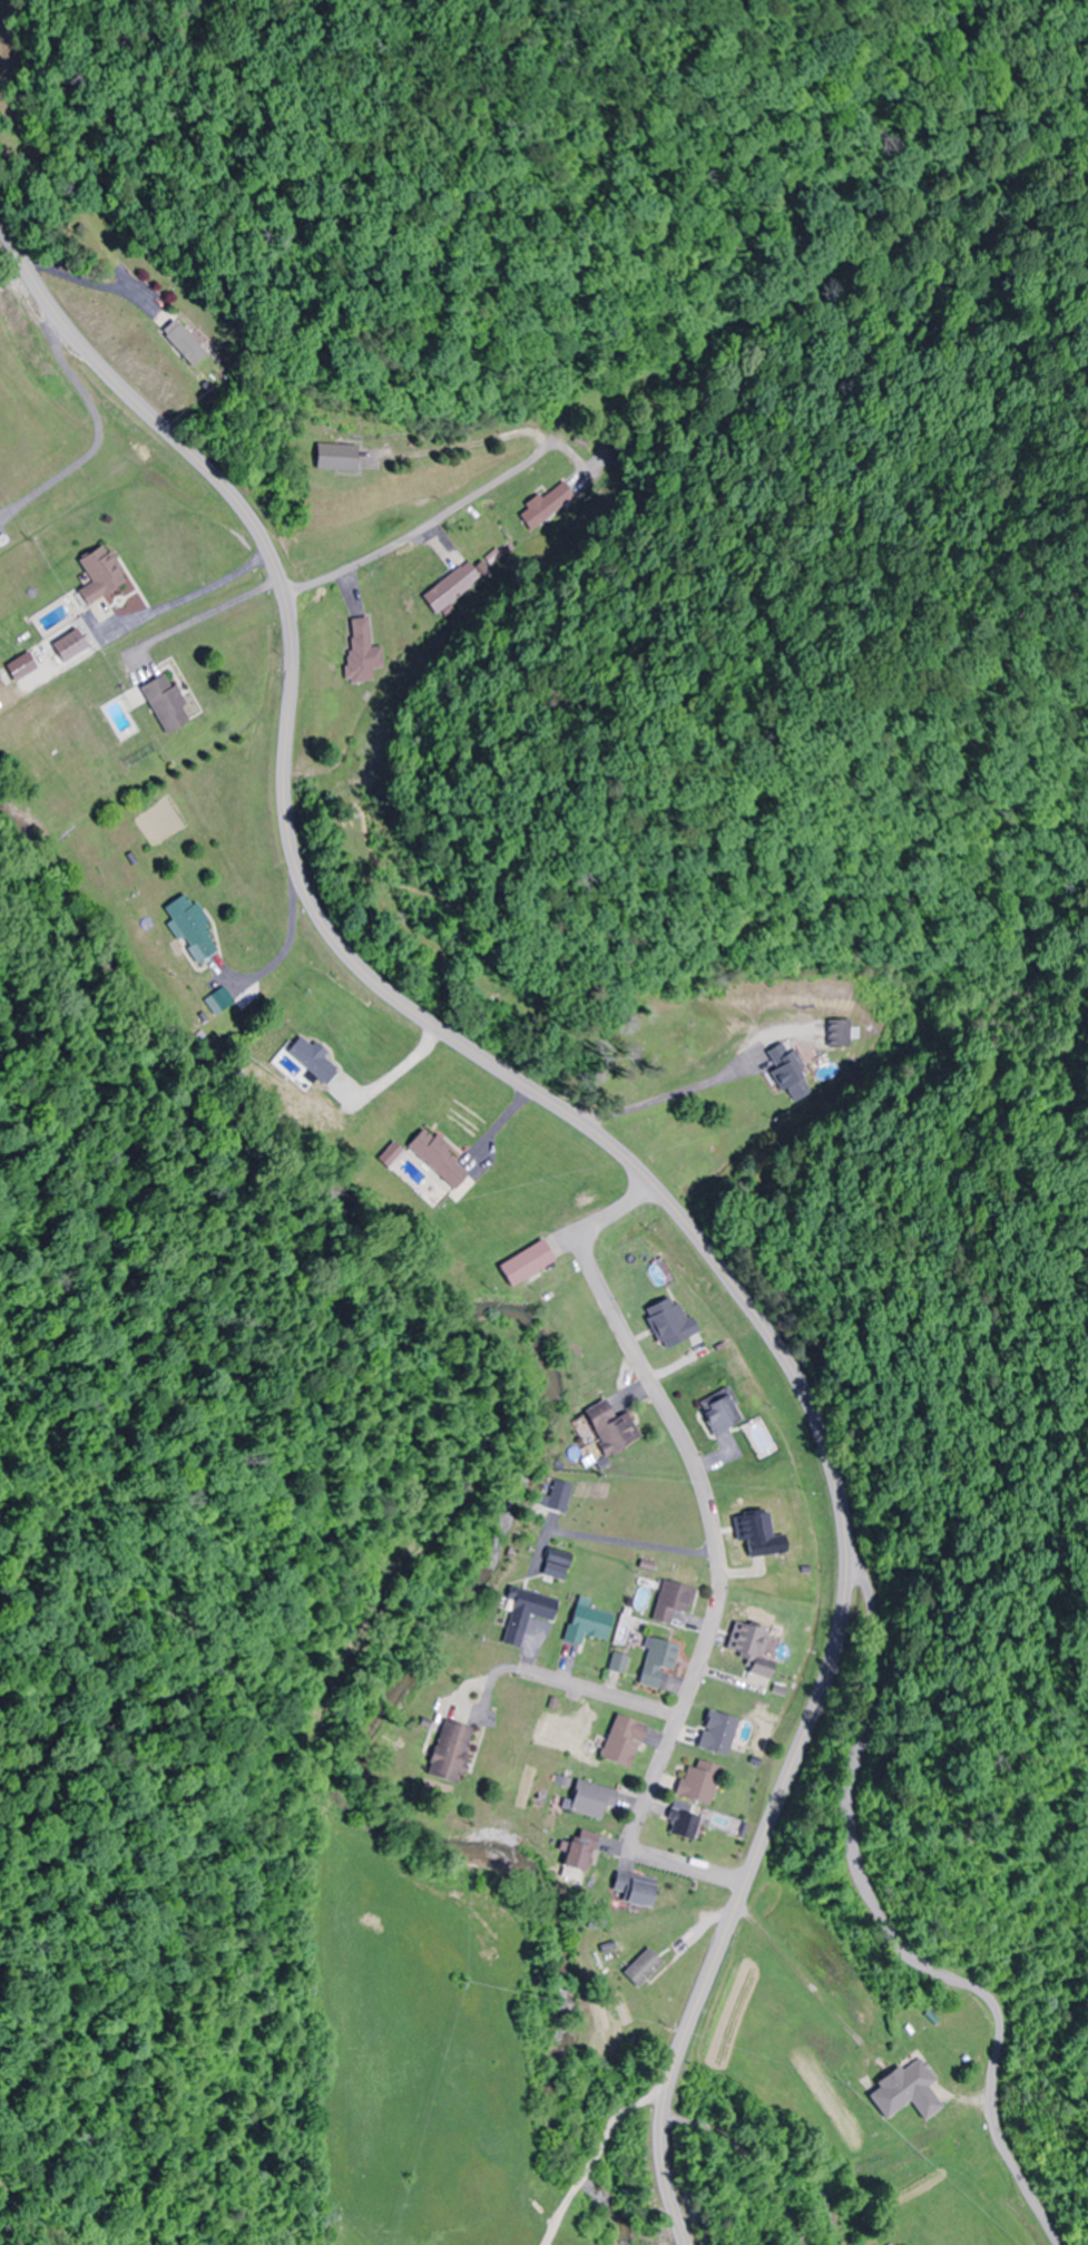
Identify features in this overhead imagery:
building: (185, 348)
building: (330, 457)
building: (551, 508)
road: (424, 528)
building: (98, 574)
building: (457, 586)
building: (363, 652)
building: (165, 705)
building: (189, 929)
building: (220, 998)
building: (837, 1034)
road: (861, 1050)
building: (312, 1061)
building: (780, 1066)
building: (435, 1158)
road: (624, 1158)
building: (521, 1265)
building: (716, 1413)
building: (608, 1427)
road: (747, 1529)
building: (756, 1534)
building: (669, 1601)
building: (527, 1608)
road: (633, 1616)
building: (585, 1624)
road: (707, 1633)
building: (748, 1648)
building: (656, 1661)
building: (616, 1663)
building: (716, 1734)
building: (619, 1740)
building: (449, 1751)
building: (697, 1782)
building: (589, 1799)
building: (682, 1825)
building: (576, 1854)
building: (630, 1891)
road: (875, 1920)
building: (636, 1956)
building: (898, 2087)
road: (709, 2100)
road: (863, 2170)

